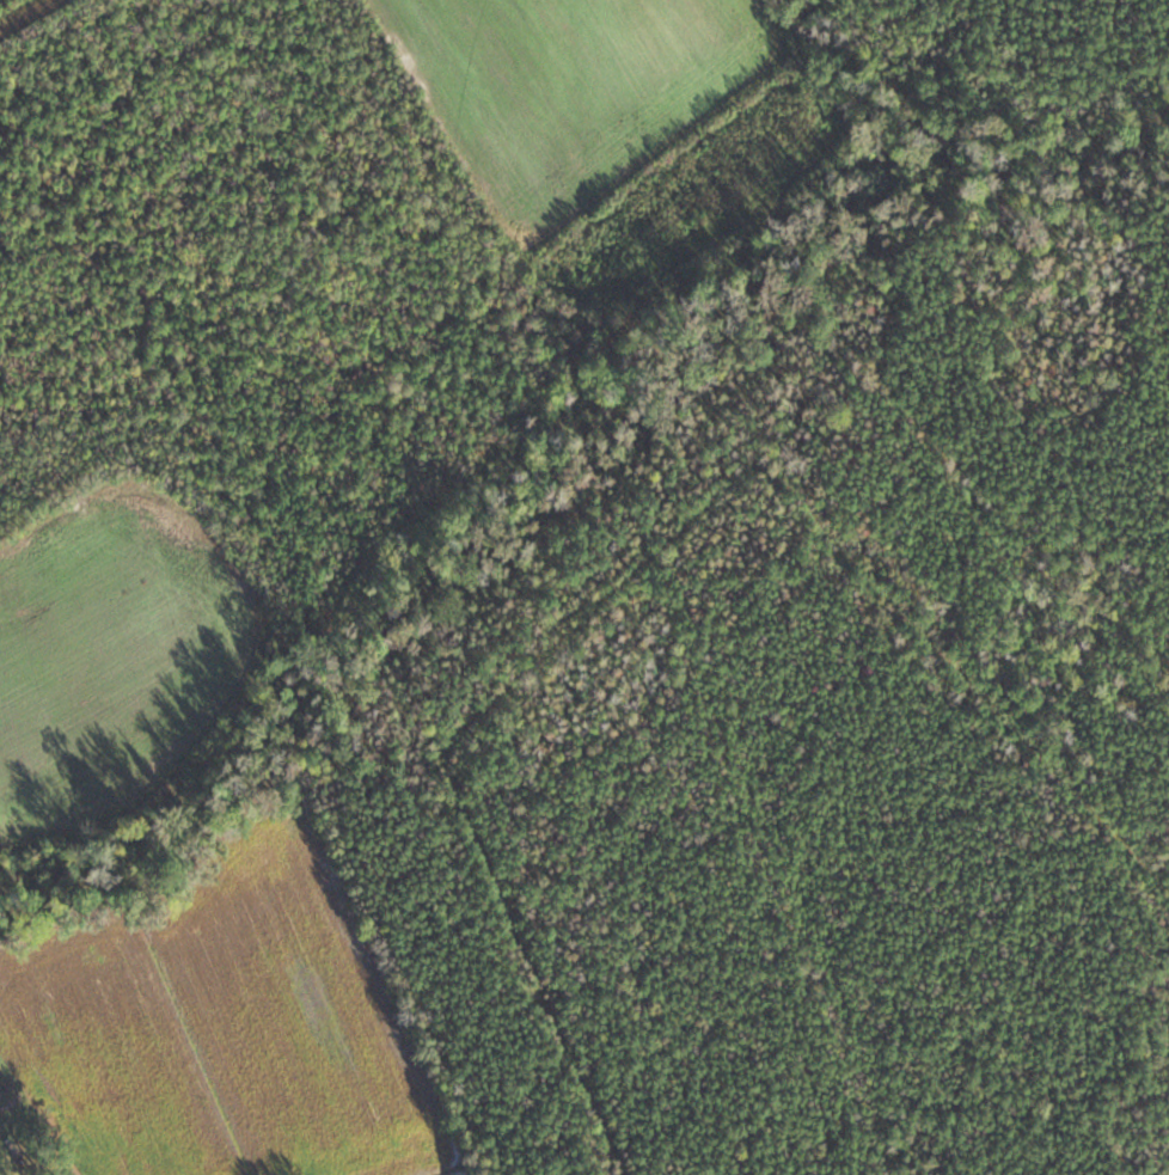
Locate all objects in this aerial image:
road: (25, 14)

